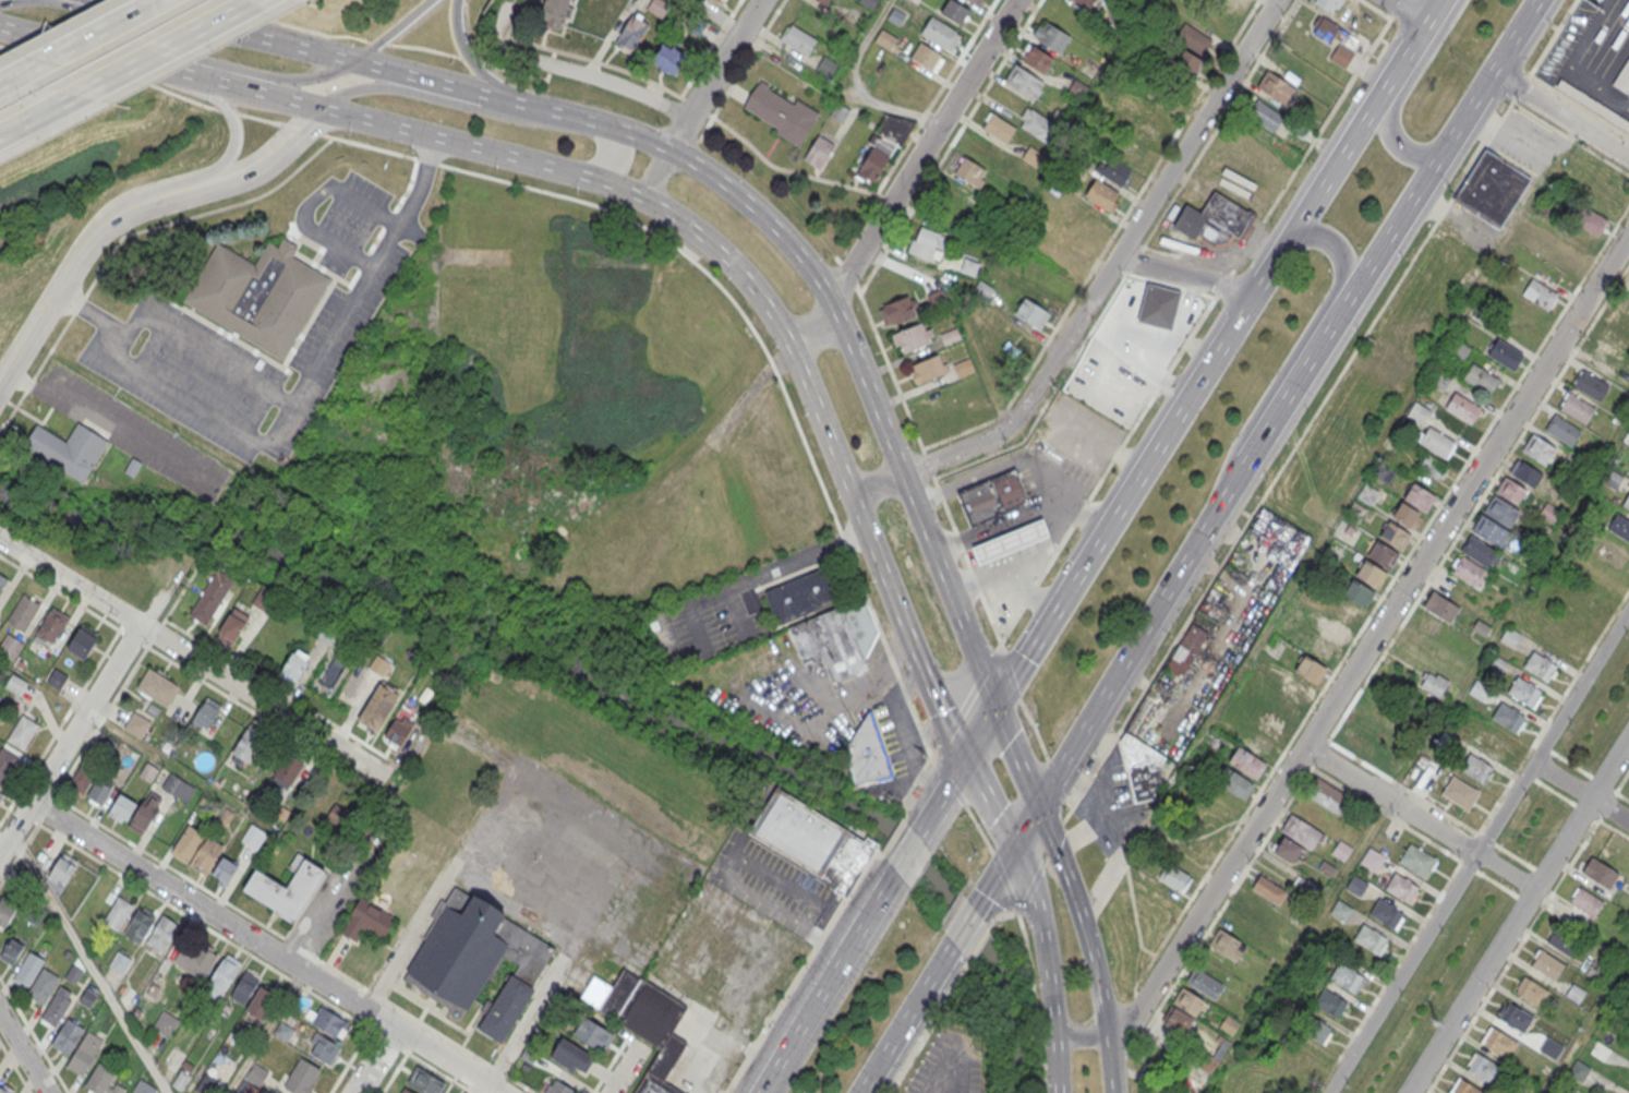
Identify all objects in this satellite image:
road: (13, 1)
road: (116, 1)
building: (713, 1)
building: (822, 1)
building: (977, 1)
building: (1086, 2)
building: (867, 3)
building: (1329, 4)
building: (657, 7)
building: (954, 11)
building: (552, 12)
road: (1403, 12)
building: (896, 15)
road: (708, 17)
building: (696, 25)
road: (230, 31)
building: (1331, 31)
road: (390, 32)
building: (938, 32)
road: (1419, 32)
building: (630, 33)
building: (1054, 36)
road: (83, 38)
building: (885, 38)
building: (798, 39)
building: (1197, 39)
road: (164, 47)
road: (710, 48)
road: (88, 49)
road: (576, 55)
building: (926, 56)
building: (1341, 56)
building: (1037, 57)
building: (667, 59)
building: (1184, 59)
building: (825, 65)
road: (740, 69)
road: (388, 73)
road: (713, 74)
road: (568, 76)
building: (1622, 77)
road: (265, 79)
road: (4, 80)
building: (1023, 81)
road: (857, 84)
road: (505, 85)
building: (1275, 86)
road: (370, 88)
building: (1077, 88)
road: (249, 91)
road: (451, 91)
road: (1400, 98)
building: (1592, 104)
road: (542, 111)
building: (781, 111)
building: (838, 111)
building: (1264, 113)
road: (37, 115)
road: (1561, 116)
road: (230, 118)
building: (1040, 125)
building: (999, 128)
building: (1144, 128)
building: (885, 142)
building: (818, 151)
road: (922, 152)
road: (270, 154)
road: (1443, 155)
building: (1031, 156)
road: (1336, 158)
road: (603, 164)
building: (969, 170)
building: (1117, 171)
road: (653, 175)
road: (886, 175)
road: (583, 177)
building: (1492, 188)
road: (735, 193)
building: (1101, 193)
road: (312, 201)
building: (1214, 219)
building: (1589, 220)
road: (897, 230)
road: (126, 233)
building: (924, 241)
road: (79, 252)
road: (904, 265)
building: (969, 266)
road: (1181, 278)
road: (1097, 288)
building: (984, 289)
building: (258, 293)
building: (1540, 293)
building: (937, 298)
building: (896, 310)
building: (1033, 313)
building: (1157, 316)
parking lot: (160, 317)
road: (816, 327)
building: (950, 336)
building: (913, 337)
road: (1300, 343)
building: (1458, 350)
road: (204, 352)
building: (1506, 355)
building: (963, 367)
building: (926, 369)
building: (1439, 377)
building: (1480, 377)
building: (1590, 385)
road: (1153, 398)
road: (1284, 404)
building: (1462, 406)
building: (1577, 408)
building: (1417, 412)
road: (285, 418)
building: (1562, 430)
parking lot: (132, 431)
building: (1436, 442)
building: (1537, 448)
building: (68, 449)
road: (1019, 461)
building: (1433, 465)
building: (133, 467)
building: (1384, 472)
building: (1527, 473)
building: (1612, 478)
road: (1134, 480)
building: (1510, 491)
building: (1367, 493)
building: (1419, 496)
building: (991, 497)
building: (1627, 502)
road: (916, 504)
building: (1355, 511)
building: (1501, 511)
building: (1548, 513)
building: (1405, 515)
road: (1023, 519)
road: (1001, 521)
road: (1331, 523)
building: (1620, 526)
road: (1005, 527)
building: (1350, 529)
building: (1489, 529)
road: (986, 533)
road: (1028, 533)
building: (1280, 533)
building: (1395, 535)
building: (1534, 538)
building: (1011, 540)
road: (1011, 541)
road: (1033, 545)
road: (991, 549)
building: (1480, 550)
road: (874, 551)
building: (1529, 552)
road: (1015, 553)
building: (1381, 553)
road: (1015, 557)
road: (995, 561)
building: (1470, 572)
building: (1372, 574)
road: (759, 577)
road: (963, 579)
building: (2, 584)
road: (1030, 591)
building: (1359, 593)
road: (157, 597)
building: (212, 597)
building: (265, 598)
building: (1578, 602)
building: (1440, 605)
road: (738, 609)
building: (23, 612)
building: (825, 622)
building: (1340, 622)
building: (1426, 624)
building: (232, 626)
building: (51, 627)
road: (1148, 627)
building: (1480, 627)
building: (1510, 636)
road: (1373, 638)
building: (82, 642)
building: (11, 646)
building: (1185, 649)
building: (1323, 650)
road: (192, 656)
building: (1496, 661)
building: (379, 664)
building: (1264, 664)
building: (1540, 665)
building: (293, 669)
building: (1311, 669)
river: (600, 681)
building: (1434, 683)
building: (16, 685)
building: (157, 687)
building: (1296, 687)
building: (1479, 688)
building: (1523, 690)
building: (378, 706)
traffic signals: (994, 706)
building: (1287, 708)
building: (205, 713)
building: (1507, 716)
building: (136, 725)
building: (1271, 725)
building: (398, 731)
building: (22, 732)
road: (978, 732)
road: (71, 740)
road: (924, 741)
building: (1357, 741)
building: (1493, 742)
building: (1212, 743)
building: (249, 745)
building: (1262, 746)
building: (866, 753)
road: (1016, 755)
traffic signals: (963, 759)
building: (1248, 762)
building: (7, 765)
building: (1391, 765)
building: (1142, 767)
building: (1477, 767)
building: (288, 770)
building: (148, 772)
road: (1054, 781)
building: (1235, 781)
road: (1621, 781)
building: (90, 786)
building: (177, 788)
building: (1459, 791)
road: (1580, 792)
building: (1325, 794)
building: (0, 796)
road: (941, 796)
road: (1621, 797)
road: (989, 802)
traffic signals: (1039, 806)
building: (134, 813)
road: (1419, 818)
road: (1027, 825)
building: (1300, 831)
building: (253, 838)
building: (812, 840)
traffic signals: (1015, 844)
building: (196, 849)
building: (1288, 849)
road: (909, 850)
road: (1479, 850)
building: (1341, 851)
road: (152, 855)
building: (1416, 860)
building: (1373, 861)
building: (1328, 867)
building: (62, 868)
parking lot: (575, 868)
building: (224, 872)
building: (1601, 873)
road: (995, 875)
building: (1174, 877)
building: (1356, 885)
building: (1305, 886)
building: (1400, 887)
building: (286, 888)
building: (1268, 888)
road: (881, 892)
building: (1586, 902)
building: (1341, 911)
building: (5, 913)
building: (118, 913)
building: (1385, 913)
road: (1518, 914)
road: (1083, 916)
road: (191, 918)
building: (366, 921)
building: (140, 924)
road: (964, 929)
building: (161, 934)
road: (854, 934)
road: (409, 935)
building: (1371, 940)
building: (1562, 941)
building: (1228, 945)
road: (266, 947)
building: (11, 950)
building: (196, 959)
building: (120, 962)
building: (478, 962)
road: (87, 965)
road: (1048, 965)
building: (1547, 965)
building: (27, 970)
building: (73, 974)
building: (222, 975)
road: (1139, 976)
building: (1347, 976)
building: (1205, 983)
building: (43, 986)
building: (244, 987)
building: (1531, 992)
building: (1576, 994)
building: (88, 998)
building: (1188, 1000)
building: (1330, 1001)
building: (262, 1002)
road: (1036, 1002)
building: (57, 1006)
road: (1138, 1010)
building: (1515, 1018)
building: (1178, 1019)
road: (799, 1021)
building: (330, 1022)
road: (906, 1022)
road: (1148, 1022)
building: (166, 1023)
road: (820, 1023)
power tower: (1433, 1023)
building: (1229, 1024)
building: (1315, 1028)
road: (433, 1030)
road: (1143, 1030)
building: (653, 1031)
road: (33, 1036)
building: (67, 1036)
building: (592, 1036)
road: (1081, 1036)
building: (1627, 1042)
building: (1498, 1043)
building: (322, 1048)
building: (1550, 1048)
building: (84, 1052)
road: (23, 1053)
building: (1601, 1053)
road: (958, 1054)
building: (571, 1057)
road: (374, 1060)
road: (1110, 1062)
parking lot: (949, 1064)
road: (14, 1067)
building: (1483, 1068)
road: (625, 1069)
building: (1578, 1070)
road: (939, 1071)
road: (964, 1076)
building: (302, 1077)
building: (99, 1078)
building: (254, 1080)
building: (180, 1081)
building: (425, 1082)
building: (207, 1084)
building: (143, 1088)
building: (559, 1088)
building: (1462, 1088)
building: (5, 1089)
building: (403, 1091)

